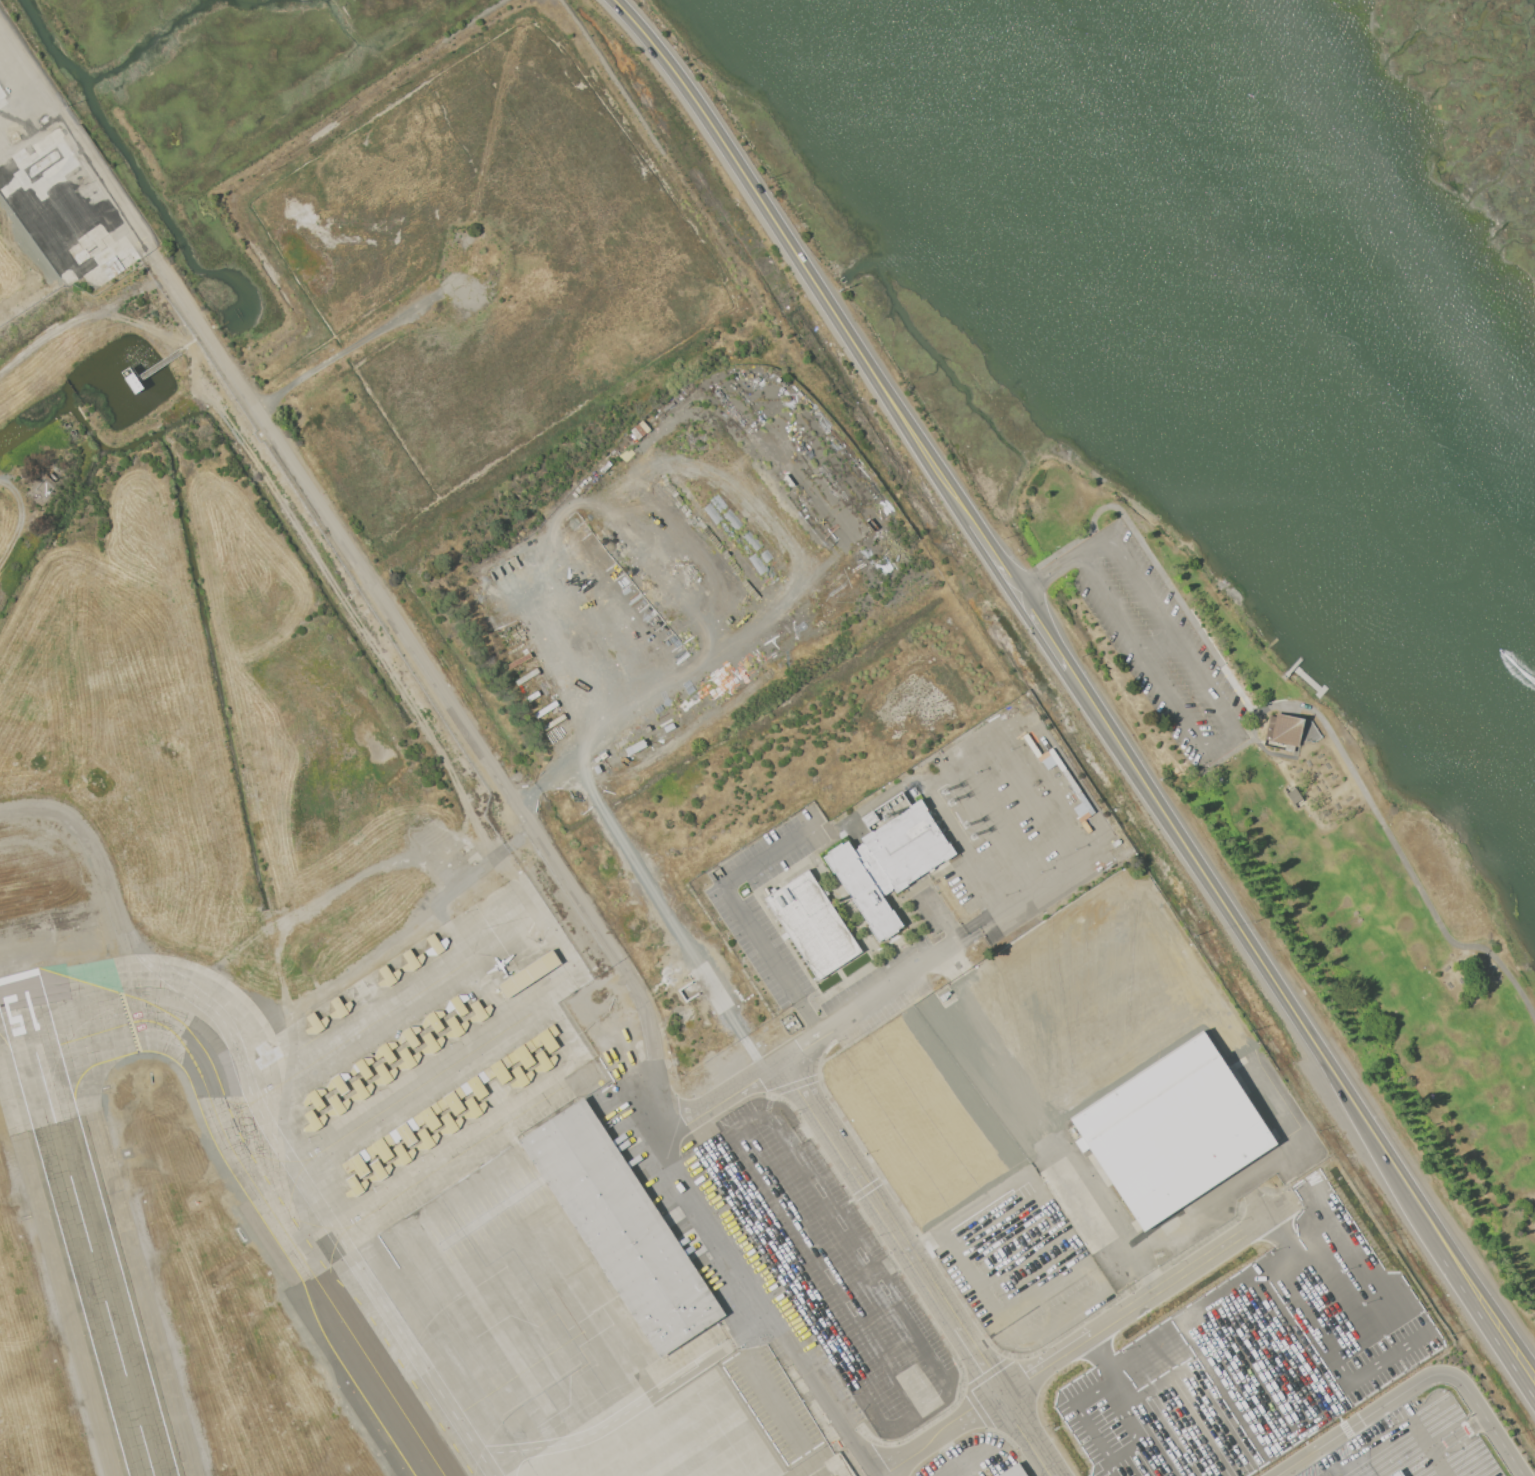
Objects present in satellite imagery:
building: (2, 93)
building: (42, 164)
building: (29, 209)
building: (82, 256)
road: (801, 256)
building: (109, 263)
road: (312, 488)
road: (753, 501)
road: (1150, 557)
road: (997, 558)
road: (1049, 574)
road: (1044, 631)
road: (1156, 640)
parking lot: (1159, 648)
pier: (1303, 654)
building: (1285, 731)
road: (1234, 736)
road: (1020, 751)
road: (1292, 759)
road: (934, 802)
road: (1020, 810)
road: (1315, 818)
road: (994, 826)
road: (1387, 832)
airport: (578, 845)
park: (1322, 852)
building: (889, 863)
road: (1048, 885)
road: (939, 914)
road: (667, 915)
road: (743, 917)
building: (813, 924)
building: (436, 945)
road: (1051, 946)
road: (1258, 959)
building: (412, 960)
road: (945, 969)
building: (529, 974)
building: (388, 976)
building: (364, 992)
building: (457, 1004)
building: (340, 1008)
airport taxiway: (19, 1011)
building: (480, 1012)
building: (434, 1020)
building: (316, 1023)
road: (978, 1025)
building: (456, 1027)
airport runway: (33, 1034)
road: (823, 1034)
building: (1013, 1035)
building: (410, 1036)
building: (547, 1038)
airport hangar: (427, 1042)
building: (431, 1043)
building: (386, 1051)
building: (523, 1054)
building: (266, 1055)
building: (408, 1059)
building: (544, 1062)
building: (362, 1067)
building: (499, 1070)
building: (384, 1074)
building: (521, 1077)
building: (338, 1082)
building: (1078, 1084)
building: (476, 1085)
building: (361, 1090)
building: (497, 1092)
building: (315, 1098)
building: (452, 1100)
building: (337, 1105)
building: (474, 1108)
building: (1264, 1108)
building: (429, 1116)
building: (314, 1121)
building: (450, 1124)
road: (810, 1124)
building: (405, 1132)
road: (793, 1134)
building: (427, 1139)
building: (381, 1147)
building: (403, 1155)
building: (357, 1163)
building: (379, 1171)
airport taxiway: (258, 1185)
building: (356, 1186)
road: (1042, 1196)
road: (1266, 1215)
building: (614, 1225)
airport runway: (87, 1226)
airport apron: (521, 1227)
road: (718, 1230)
road: (925, 1238)
road: (1290, 1250)
road: (899, 1254)
road: (1021, 1256)
road: (1295, 1265)
road: (881, 1266)
road: (921, 1267)
road: (827, 1272)
road: (1045, 1290)
road: (1149, 1296)
road: (1390, 1312)
road: (1067, 1314)
road: (1491, 1318)
road: (1104, 1358)
parking lot: (1248, 1365)
road: (1218, 1373)
road: (756, 1376)
road: (1260, 1391)
road: (865, 1405)
road: (1363, 1421)
road: (1381, 1421)
road: (1491, 1421)
road: (1097, 1422)
road: (1475, 1424)
road: (941, 1435)
road: (1361, 1436)
parking lot: (1433, 1439)
parking lot: (1353, 1458)
road: (1365, 1463)
road: (1329, 1465)
road: (988, 1466)
parking lot: (1313, 1470)
building: (1013, 1471)
road: (1310, 1474)

